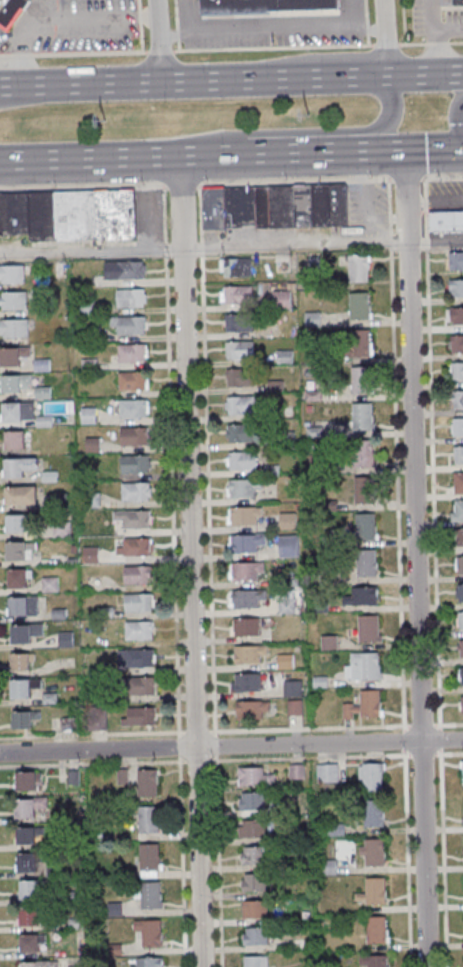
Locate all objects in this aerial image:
building: (458, 2)
building: (266, 6)
building: (12, 12)
road: (60, 19)
parking lot: (436, 20)
road: (450, 27)
road: (270, 33)
road: (437, 36)
road: (384, 37)
road: (157, 41)
road: (320, 46)
road: (231, 80)
power tower: (307, 115)
road: (457, 116)
power tower: (104, 121)
road: (299, 131)
road: (231, 153)
road: (231, 181)
road: (404, 197)
road: (433, 201)
road: (180, 202)
building: (275, 206)
building: (82, 214)
building: (446, 220)
road: (231, 249)
building: (456, 261)
building: (236, 267)
building: (359, 268)
building: (125, 270)
building: (12, 273)
building: (456, 289)
building: (237, 295)
building: (131, 297)
building: (282, 299)
building: (15, 300)
building: (359, 306)
building: (456, 316)
building: (313, 320)
building: (239, 322)
building: (131, 325)
building: (15, 327)
building: (360, 343)
building: (456, 345)
building: (240, 349)
building: (133, 353)
building: (13, 356)
building: (457, 372)
building: (240, 377)
building: (134, 380)
building: (362, 381)
building: (16, 384)
building: (458, 399)
building: (241, 404)
building: (135, 408)
building: (18, 411)
building: (89, 417)
building: (362, 418)
building: (458, 426)
building: (241, 433)
building: (135, 435)
building: (16, 439)
building: (458, 454)
building: (362, 455)
building: (242, 461)
building: (135, 464)
building: (19, 466)
building: (458, 482)
building: (242, 489)
building: (364, 490)
building: (137, 491)
building: (23, 494)
building: (457, 511)
building: (244, 517)
building: (134, 518)
building: (16, 522)
building: (288, 522)
building: (366, 526)
building: (460, 538)
building: (247, 544)
building: (138, 546)
building: (289, 548)
building: (19, 550)
building: (90, 554)
building: (366, 563)
building: (460, 566)
building: (246, 572)
building: (139, 574)
building: (18, 578)
building: (50, 584)
building: (459, 593)
building: (363, 597)
building: (247, 600)
building: (139, 602)
road: (416, 605)
building: (23, 606)
building: (287, 607)
road: (191, 608)
building: (460, 621)
building: (246, 628)
building: (140, 630)
building: (369, 630)
building: (25, 632)
building: (66, 639)
building: (329, 643)
building: (460, 649)
building: (249, 656)
building: (137, 658)
building: (21, 661)
building: (364, 667)
building: (461, 676)
building: (248, 683)
building: (144, 685)
building: (26, 687)
building: (293, 688)
building: (461, 704)
building: (364, 706)
building: (295, 708)
building: (252, 710)
building: (139, 716)
building: (24, 718)
building: (100, 719)
road: (231, 747)
building: (327, 772)
building: (371, 776)
building: (255, 778)
building: (29, 780)
building: (147, 782)
building: (251, 801)
building: (31, 806)
building: (374, 815)
building: (149, 819)
building: (252, 828)
building: (26, 835)
building: (373, 851)
building: (253, 855)
building: (150, 860)
building: (27, 861)
building: (328, 867)
building: (254, 882)
building: (33, 889)
building: (373, 891)
building: (150, 896)
building: (255, 909)
building: (30, 916)
building: (377, 929)
building: (149, 934)
building: (256, 935)
building: (32, 943)
building: (255, 961)
building: (373, 961)
building: (147, 962)
building: (39, 963)

